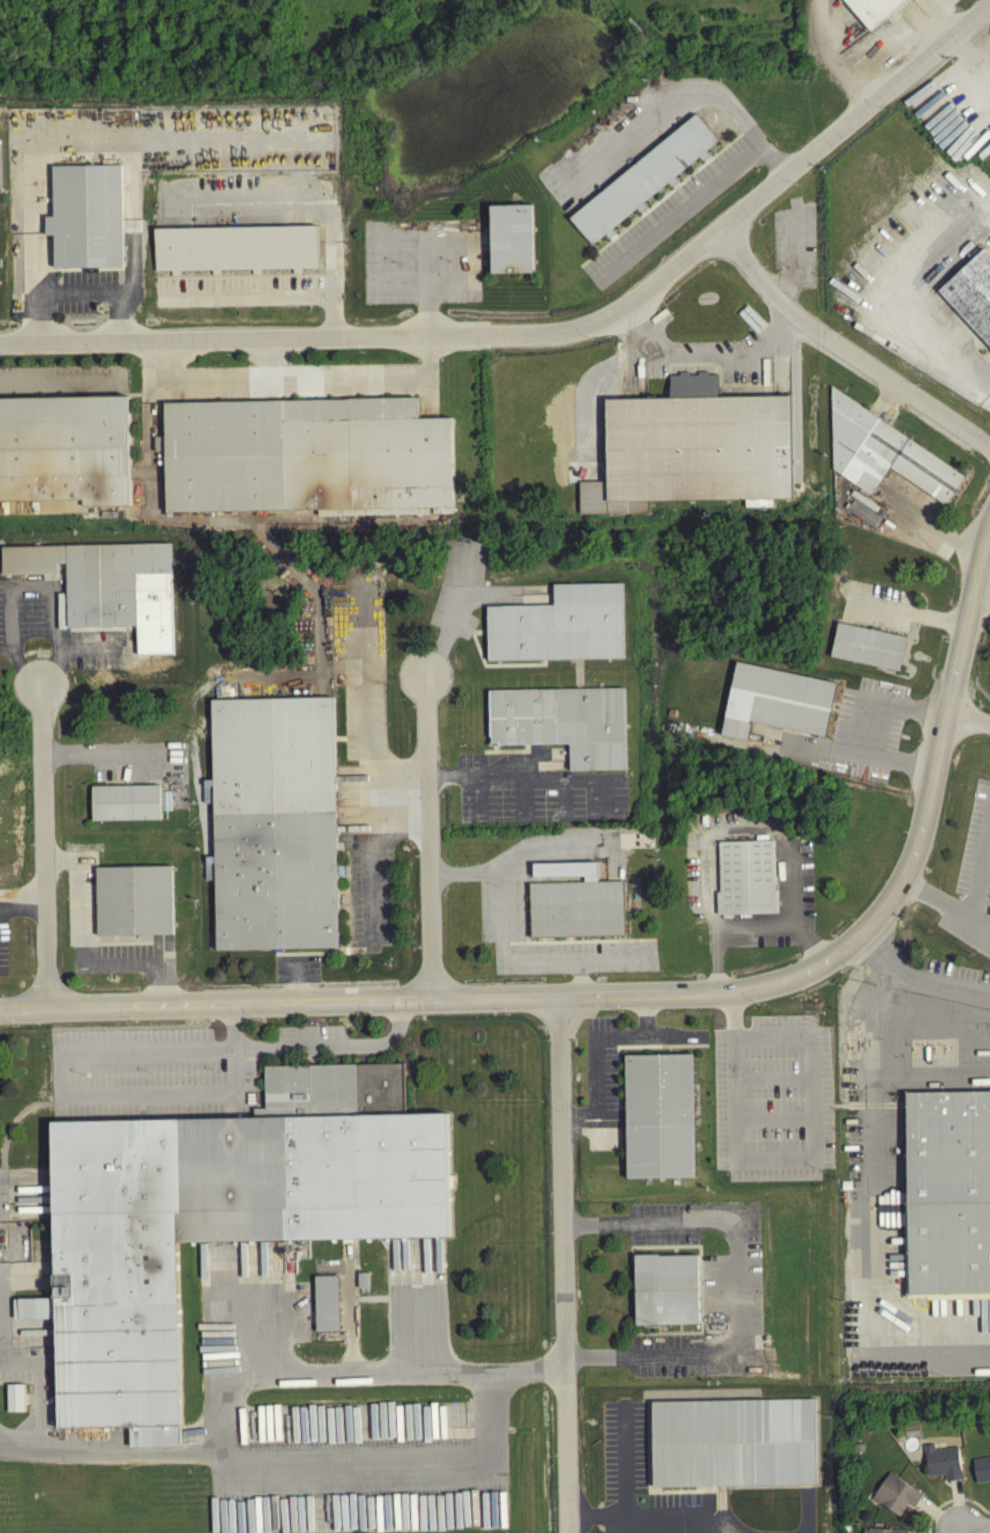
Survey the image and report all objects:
building: (875, 10)
road: (687, 98)
building: (643, 183)
building: (85, 220)
building: (511, 242)
building: (234, 252)
road: (267, 296)
road: (76, 297)
building: (971, 298)
road: (885, 303)
road: (552, 331)
road: (845, 349)
road: (707, 356)
parking lot: (64, 379)
building: (694, 446)
building: (885, 451)
building: (64, 452)
building: (305, 459)
road: (931, 525)
road: (27, 589)
building: (107, 589)
road: (981, 593)
road: (909, 612)
road: (449, 618)
building: (559, 630)
building: (867, 650)
road: (367, 699)
building: (776, 705)
road: (968, 719)
road: (879, 723)
building: (562, 727)
road: (493, 767)
building: (125, 807)
building: (273, 827)
road: (373, 835)
road: (428, 838)
road: (46, 849)
road: (979, 865)
building: (745, 882)
road: (786, 887)
road: (936, 894)
building: (134, 904)
building: (576, 912)
road: (979, 915)
road: (747, 925)
road: (80, 950)
road: (919, 971)
road: (298, 981)
road: (655, 993)
road: (894, 993)
road: (940, 1021)
road: (88, 1048)
road: (933, 1075)
parking lot: (603, 1088)
parking lot: (775, 1097)
building: (662, 1114)
road: (792, 1154)
building: (949, 1189)
building: (209, 1229)
road: (875, 1239)
road: (565, 1264)
road: (741, 1282)
parking lot: (733, 1286)
building: (668, 1288)
building: (325, 1308)
road: (321, 1367)
building: (15, 1402)
building: (735, 1440)
road: (321, 1460)
building: (941, 1466)
building: (981, 1474)
road: (625, 1483)
building: (895, 1499)
road: (952, 1504)
road: (975, 1528)
road: (959, 1531)
road: (960, 1531)
building: (867, 1532)

